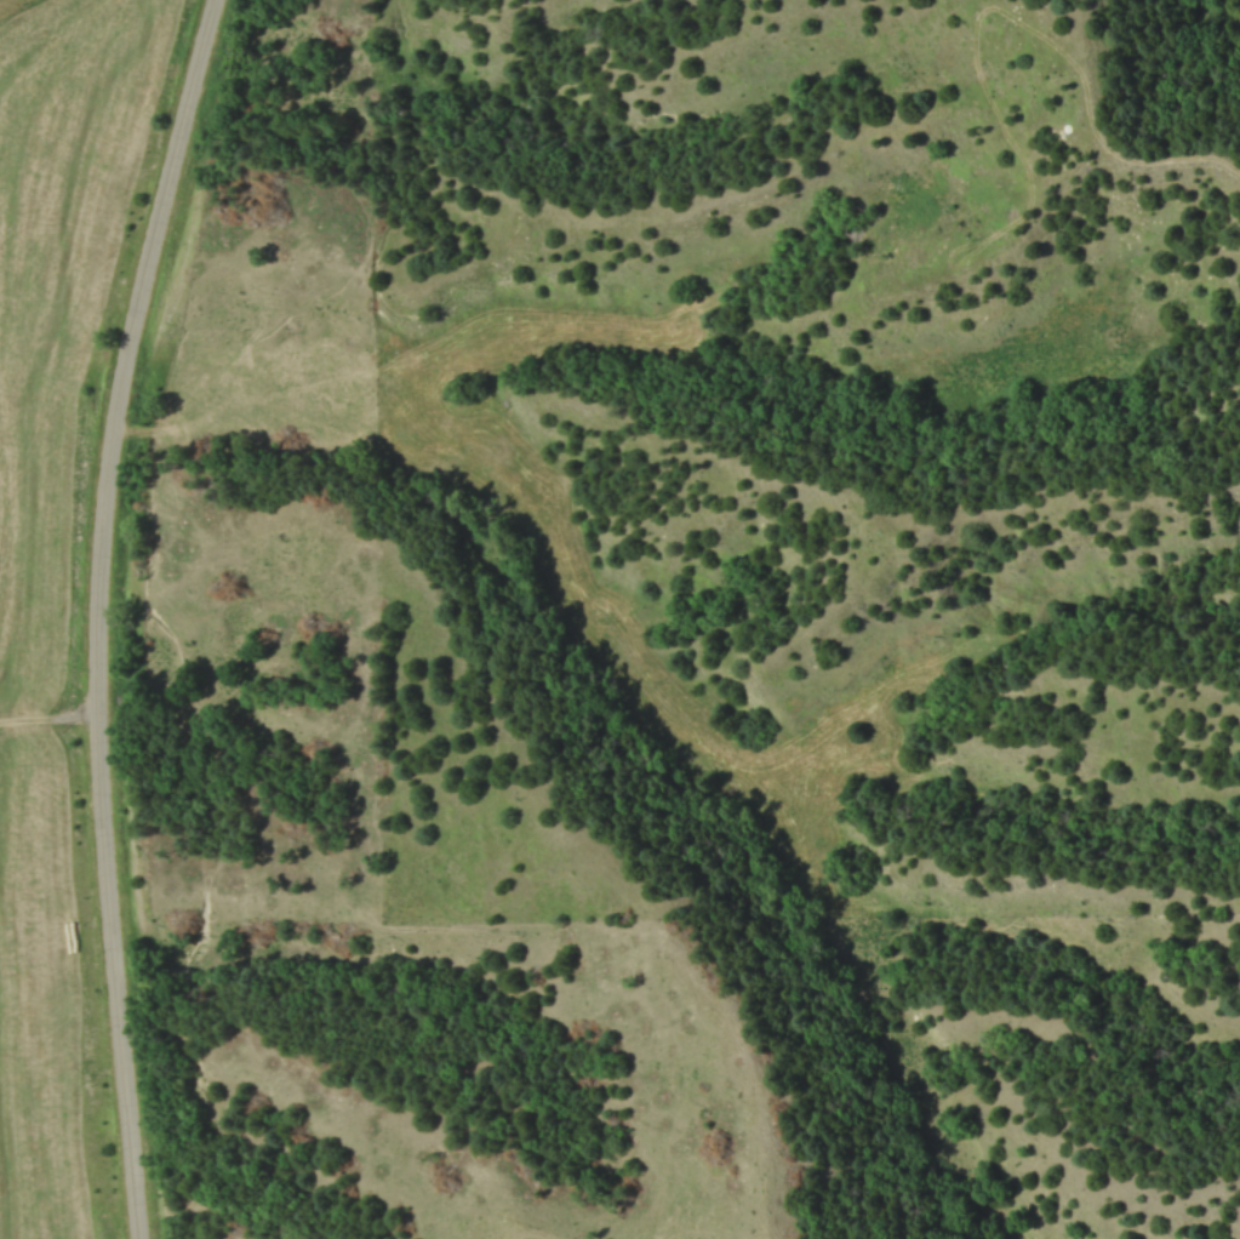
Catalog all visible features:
road: (96, 613)

